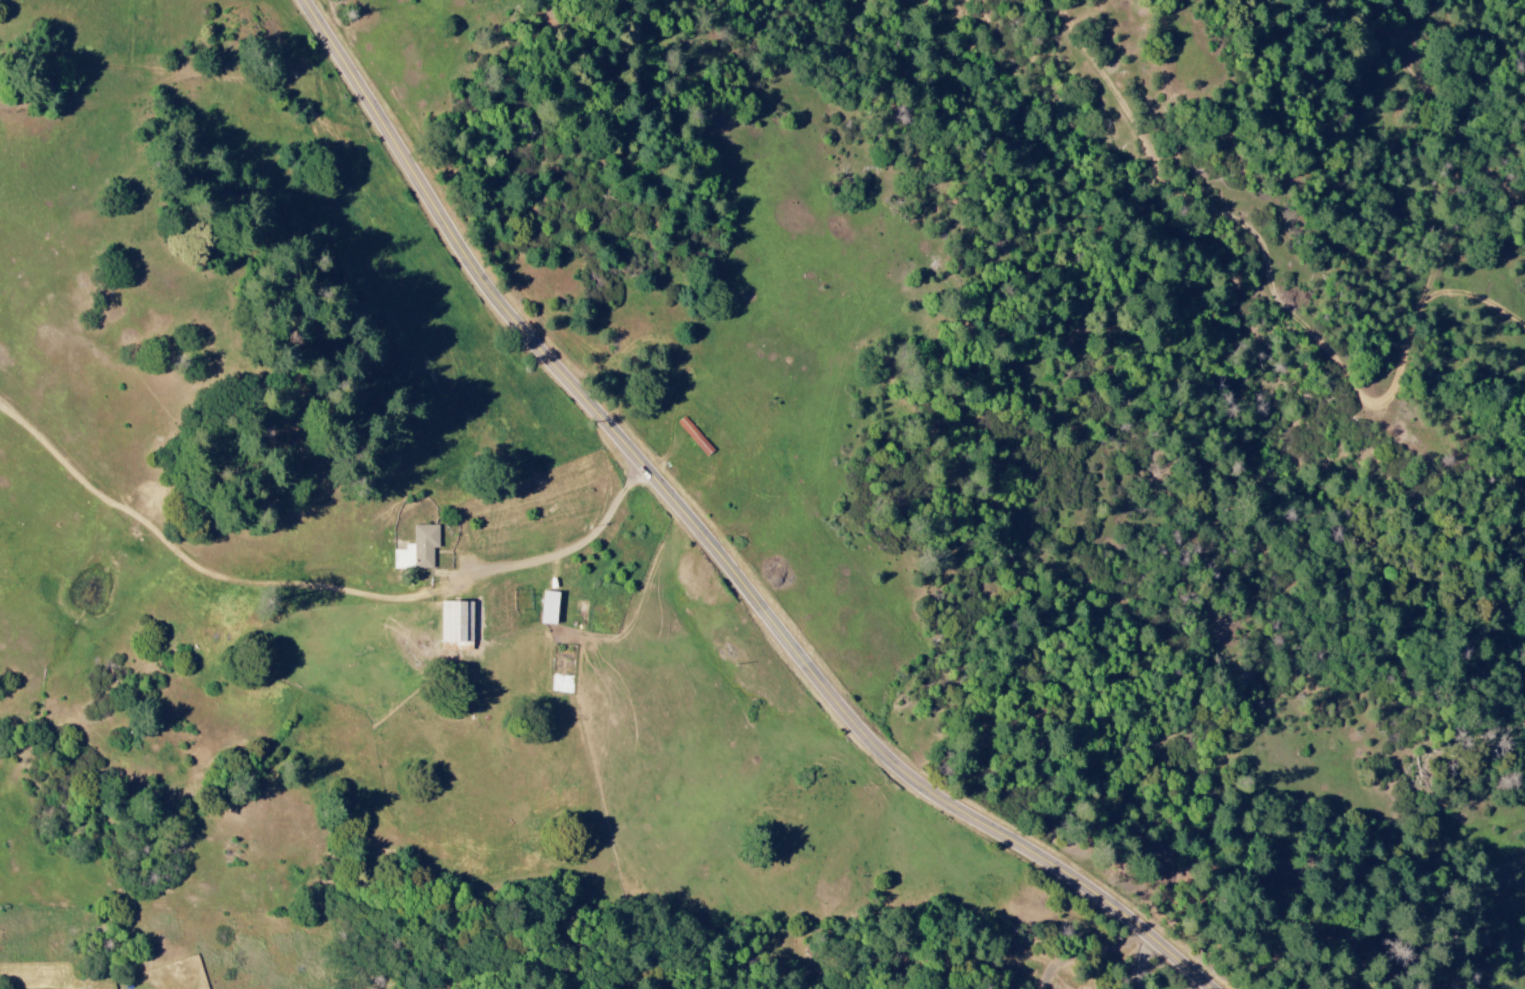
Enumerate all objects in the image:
road: (1446, 93)
building: (693, 436)
road: (717, 541)
road: (580, 547)
building: (417, 549)
building: (548, 608)
building: (455, 624)

